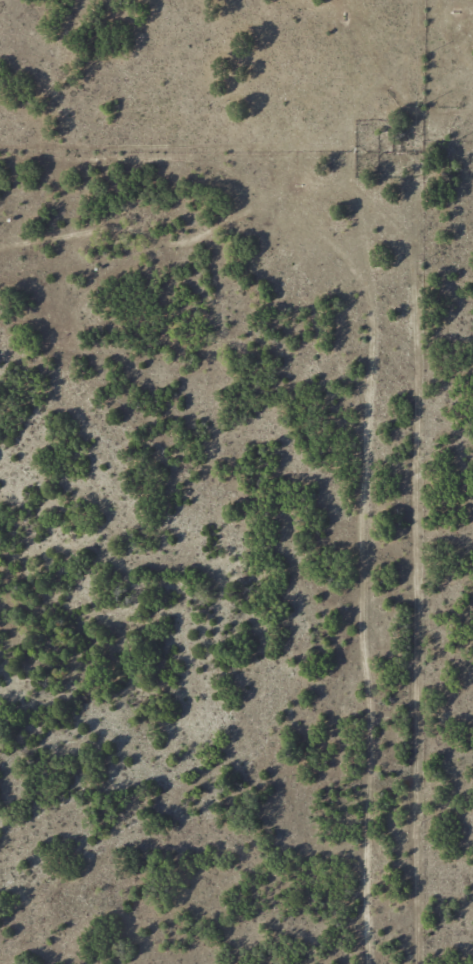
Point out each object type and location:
road: (274, 211)
road: (379, 572)

